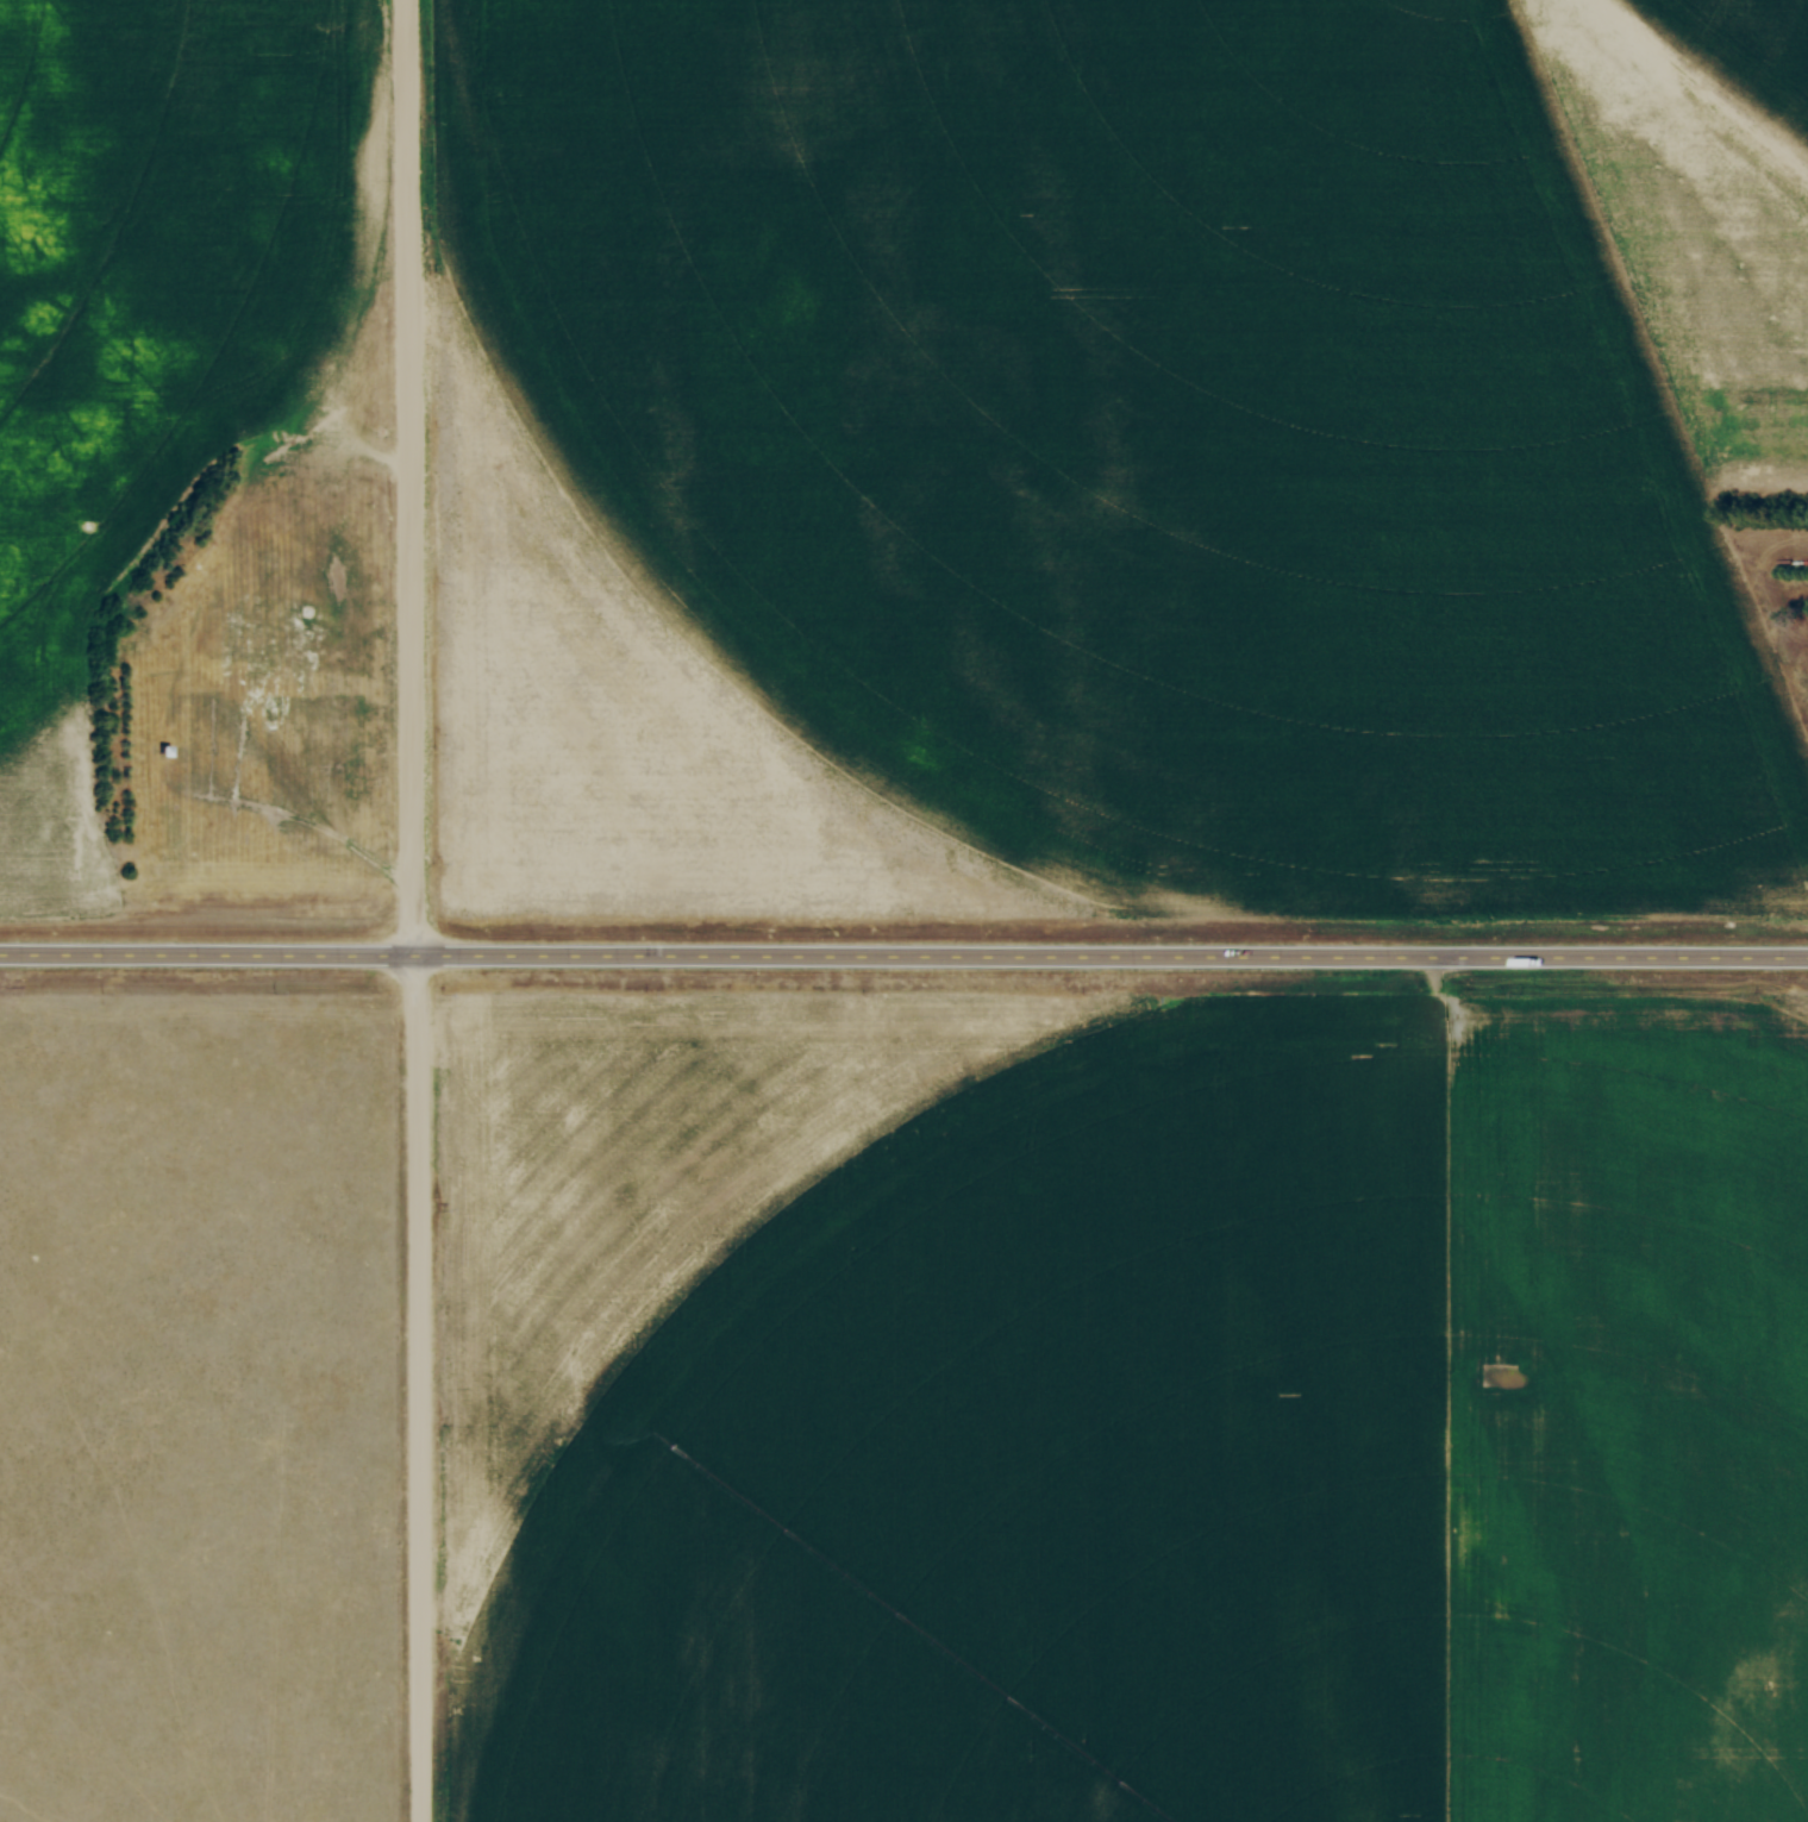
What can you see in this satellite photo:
road: (414, 910)
road: (903, 958)

